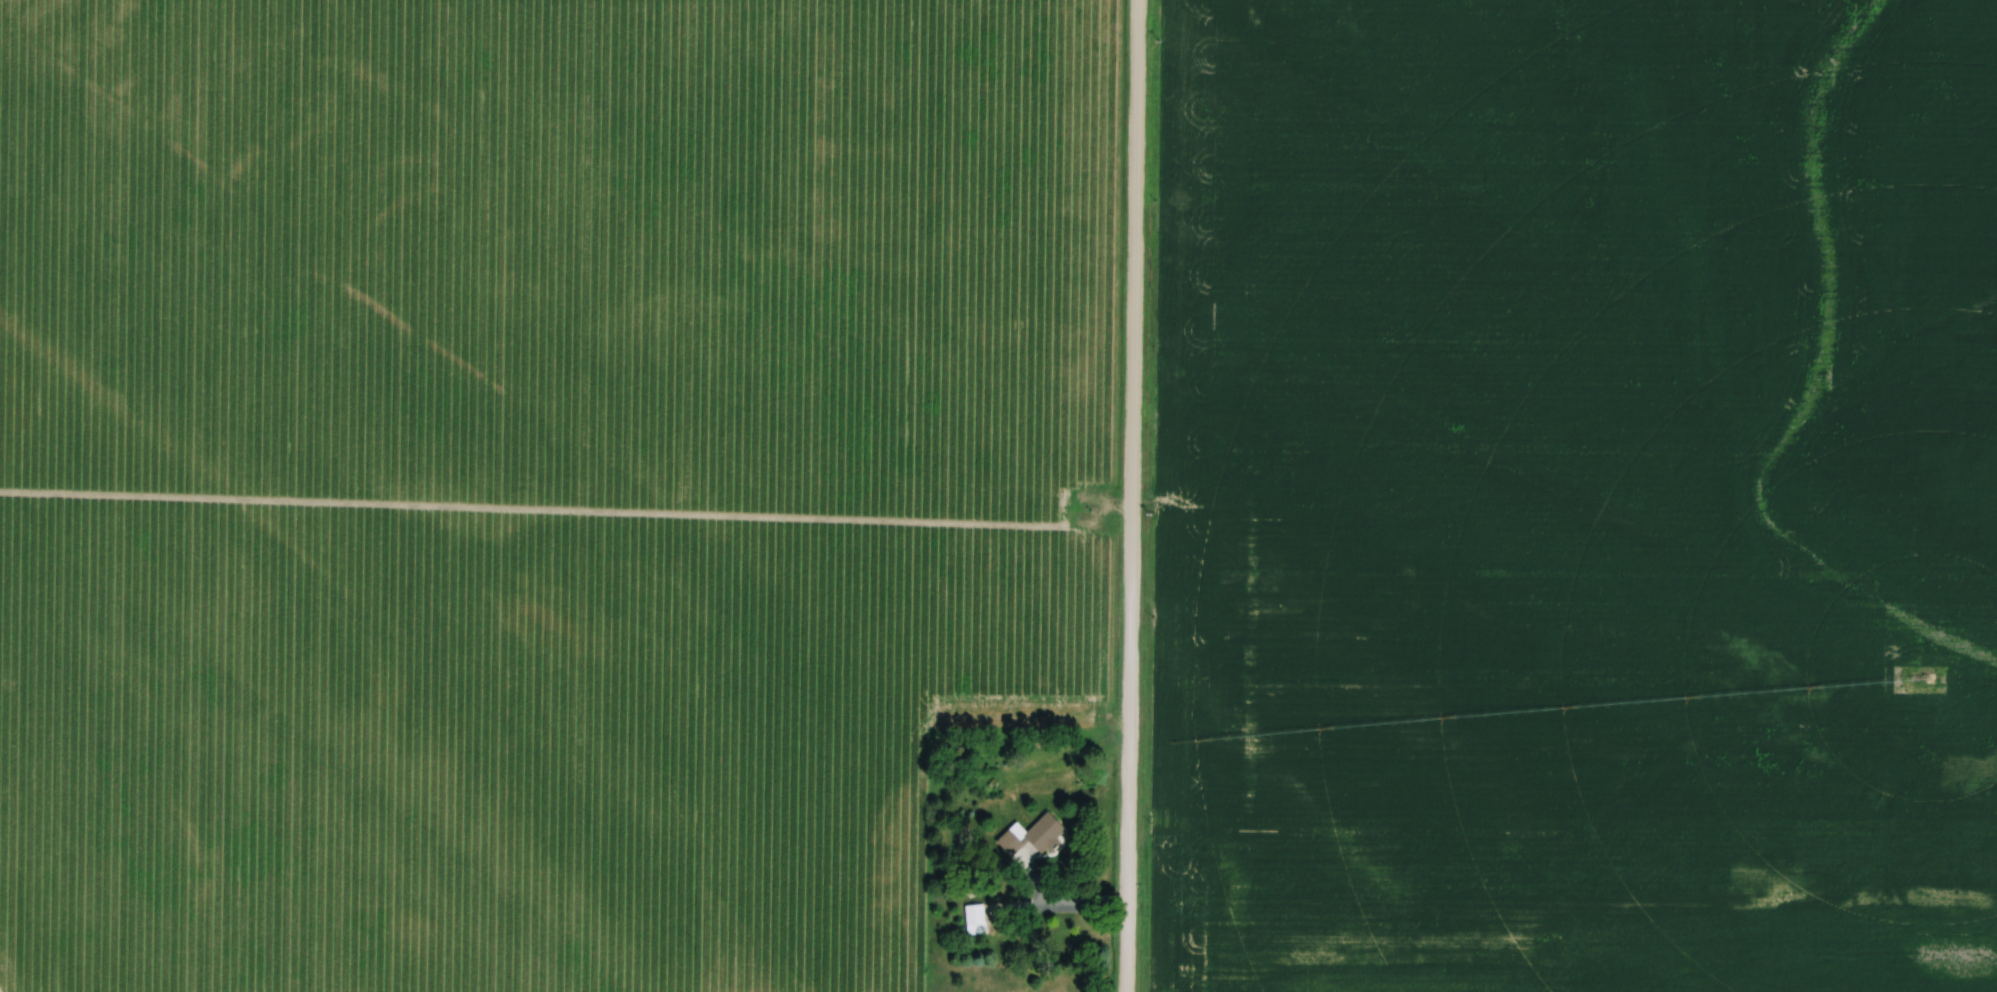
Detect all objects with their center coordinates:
road: (1132, 496)
building: (1033, 833)
building: (975, 915)

